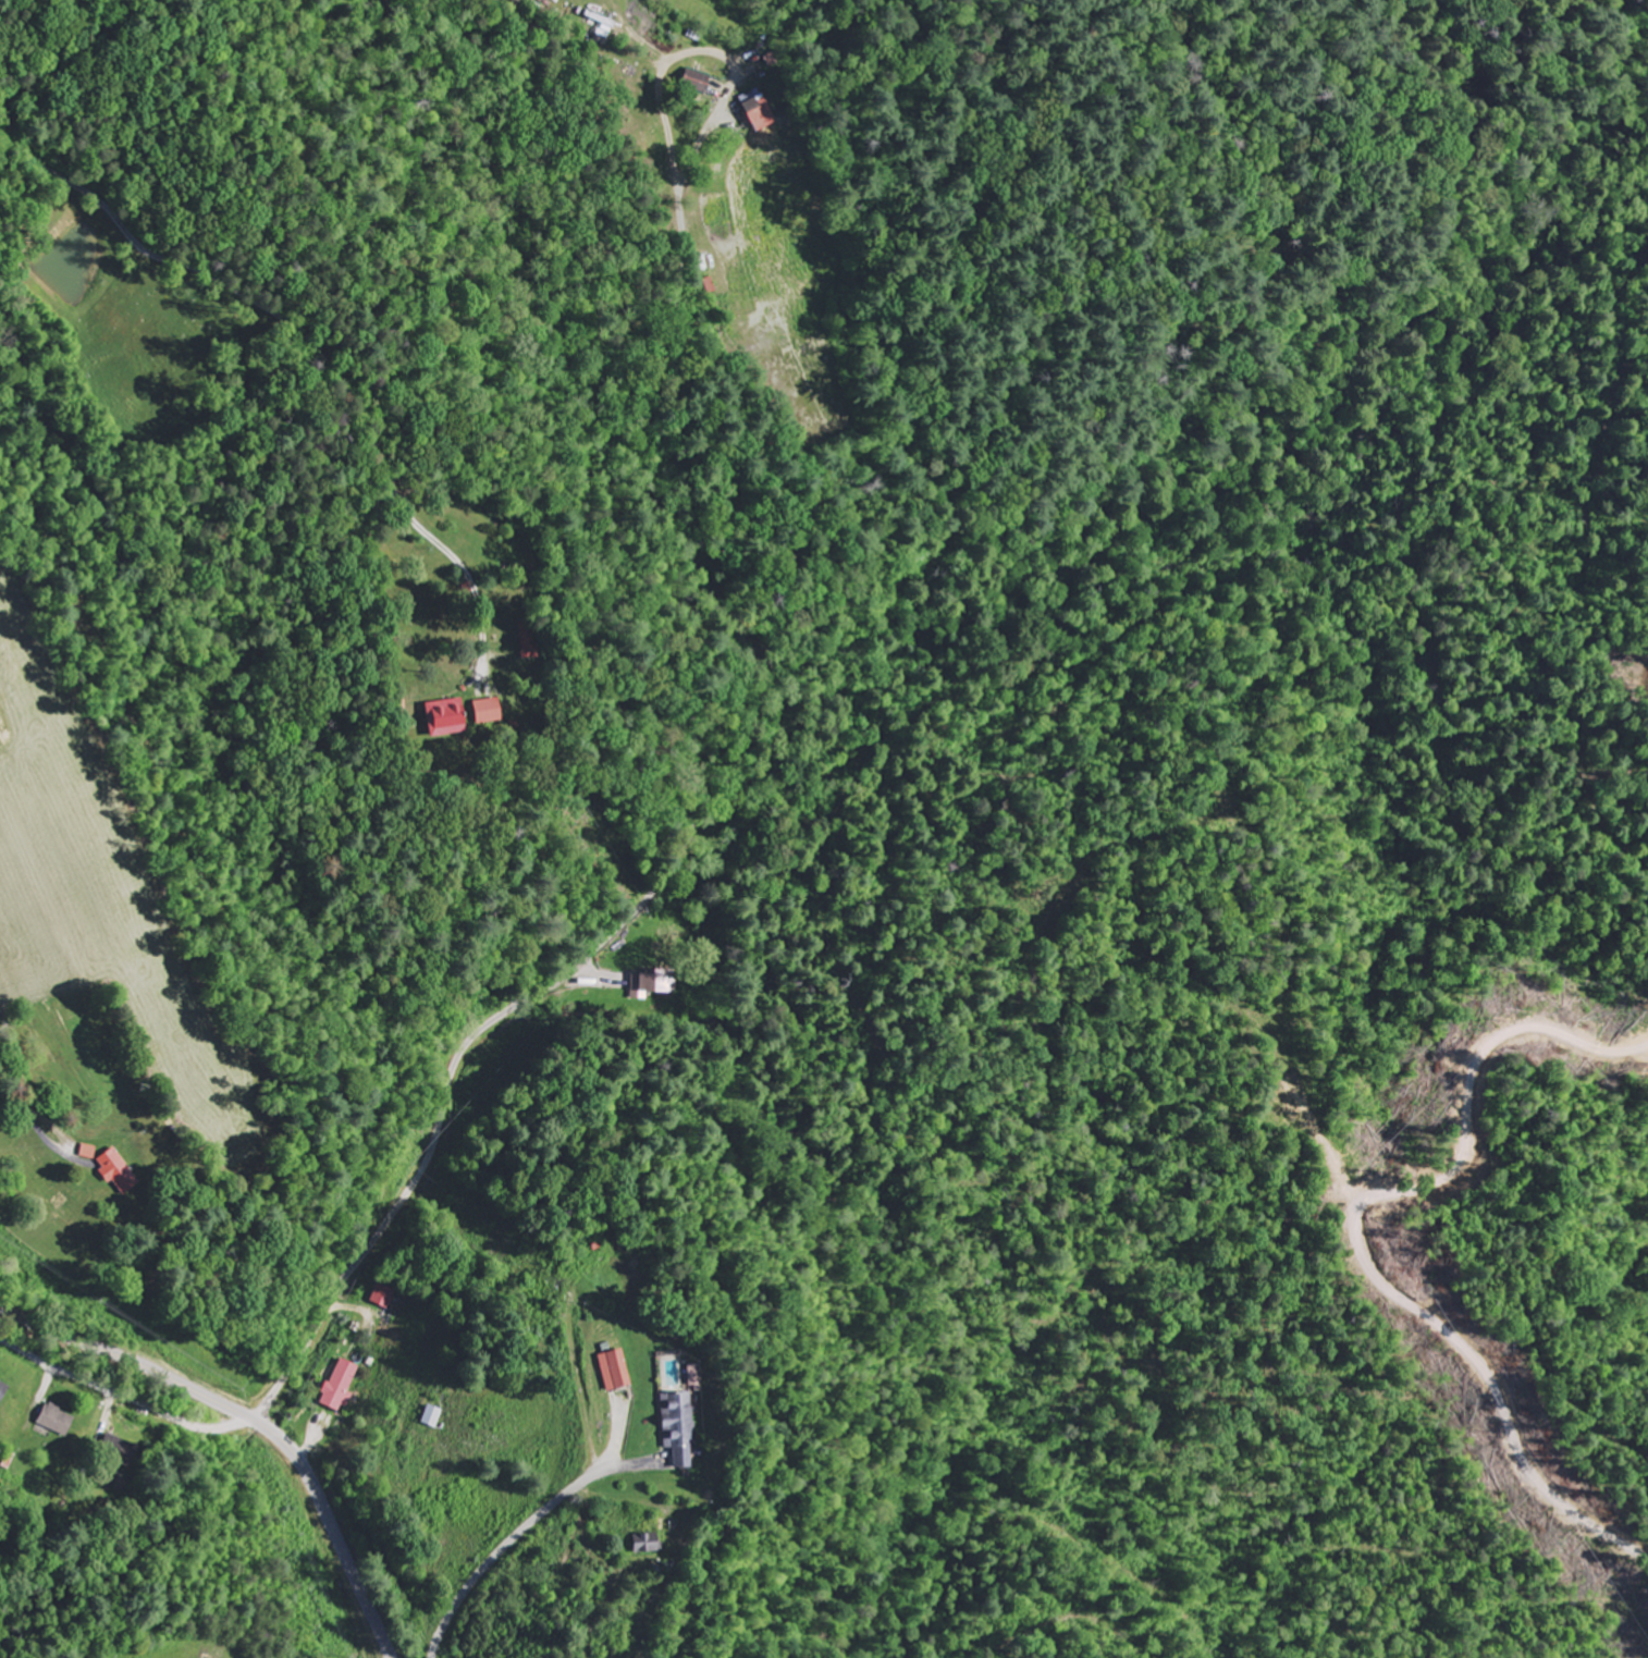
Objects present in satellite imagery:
building: (698, 82)
building: (760, 115)
building: (489, 712)
building: (447, 719)
road: (702, 813)
building: (654, 984)
building: (89, 1153)
building: (119, 1172)
building: (382, 1298)
building: (615, 1372)
building: (698, 1377)
building: (340, 1387)
building: (3, 1391)
road: (123, 1396)
building: (429, 1417)
road: (253, 1420)
building: (58, 1421)
building: (681, 1429)
road: (556, 1498)
building: (651, 1545)

